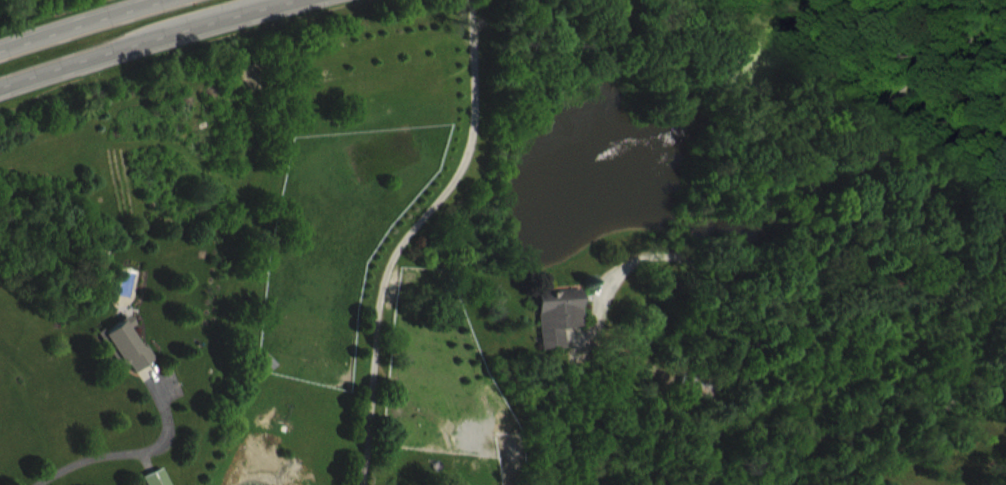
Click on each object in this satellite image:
road: (79, 23)
road: (134, 38)
road: (819, 142)
road: (406, 235)
road: (780, 297)
building: (567, 329)
building: (133, 359)
road: (121, 451)
building: (167, 483)

